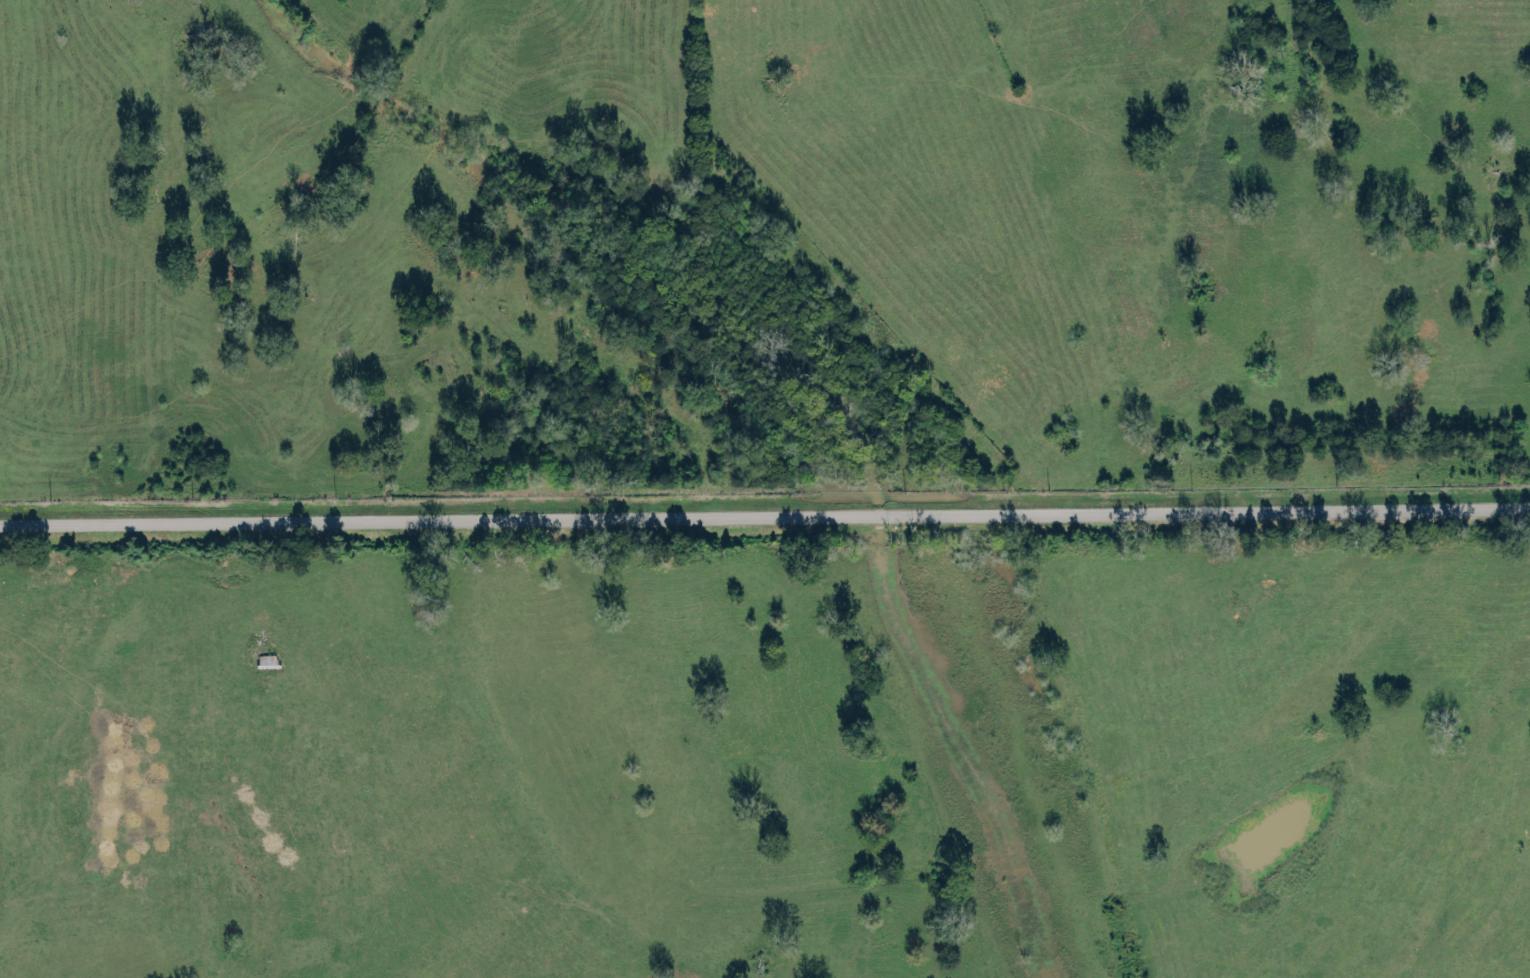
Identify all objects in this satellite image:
road: (765, 516)

